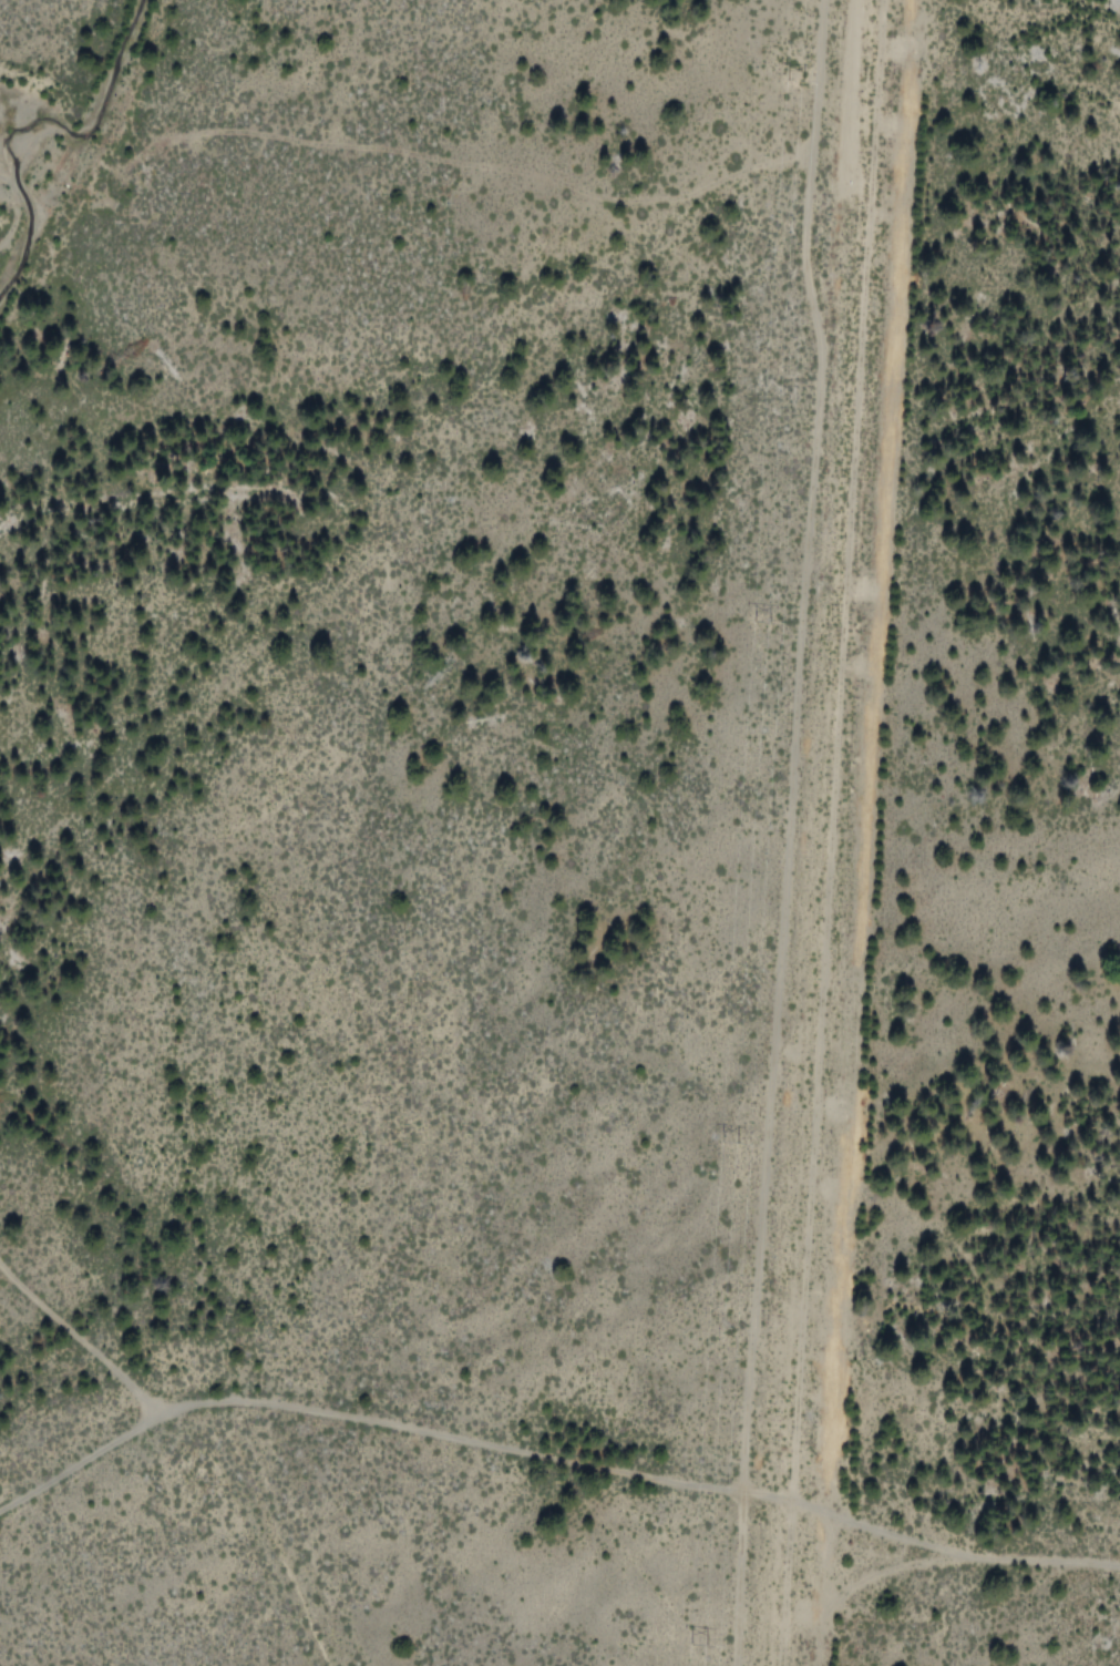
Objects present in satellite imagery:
road: (380, 1425)
road: (949, 1551)

